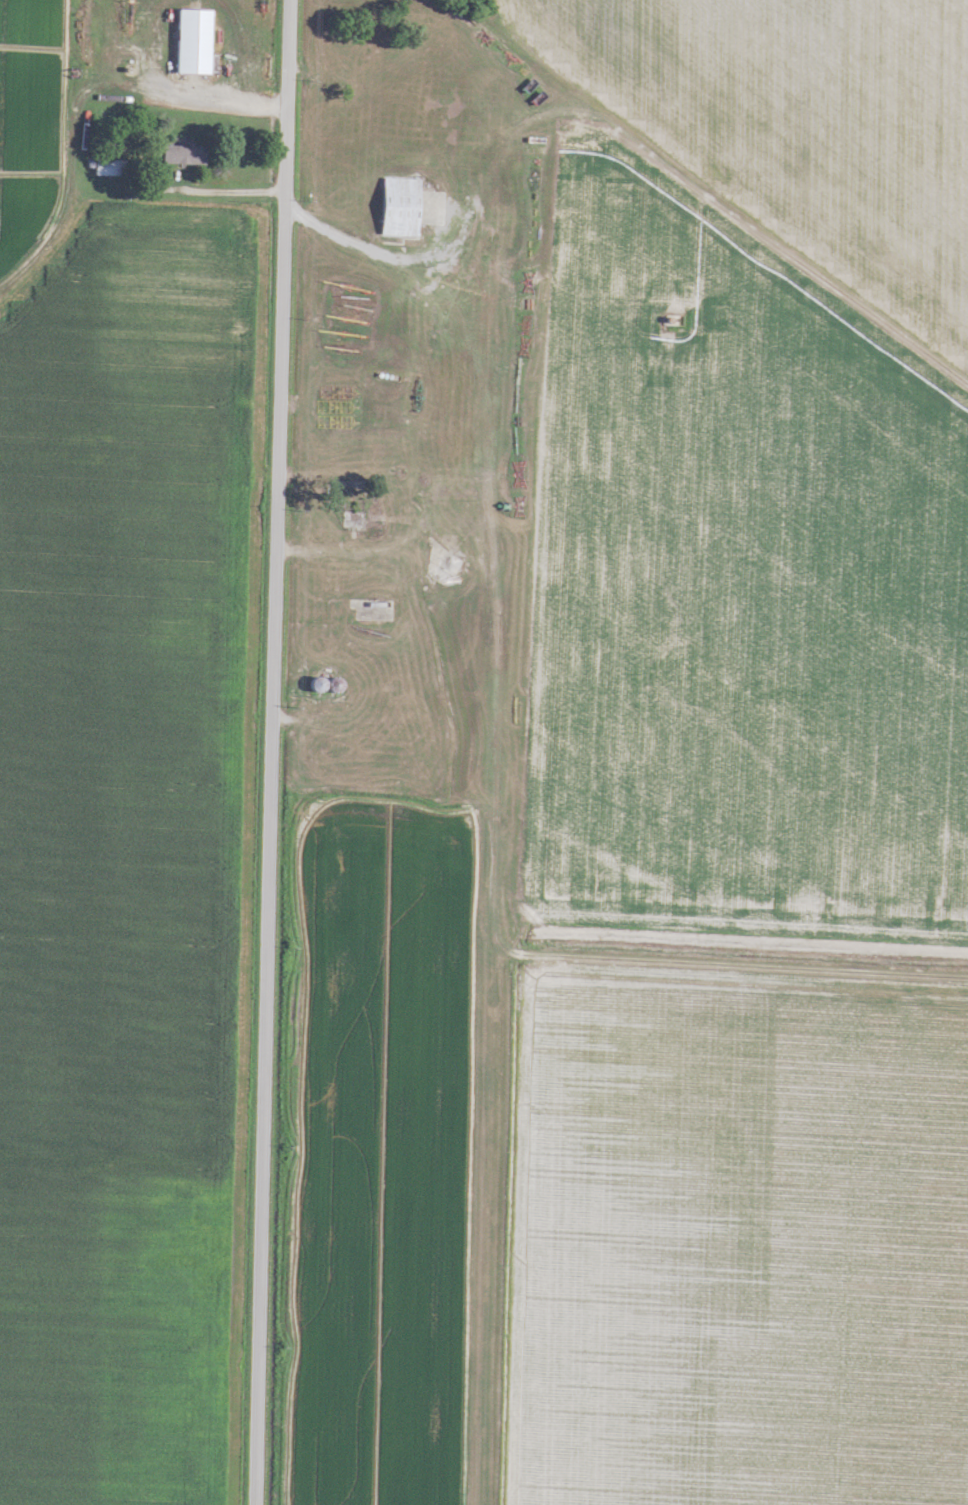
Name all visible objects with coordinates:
building: (189, 41)
building: (179, 154)
building: (107, 167)
road: (203, 191)
building: (396, 192)
road: (351, 230)
road: (445, 667)
building: (319, 684)
road: (270, 752)
airport runway: (487, 1154)

